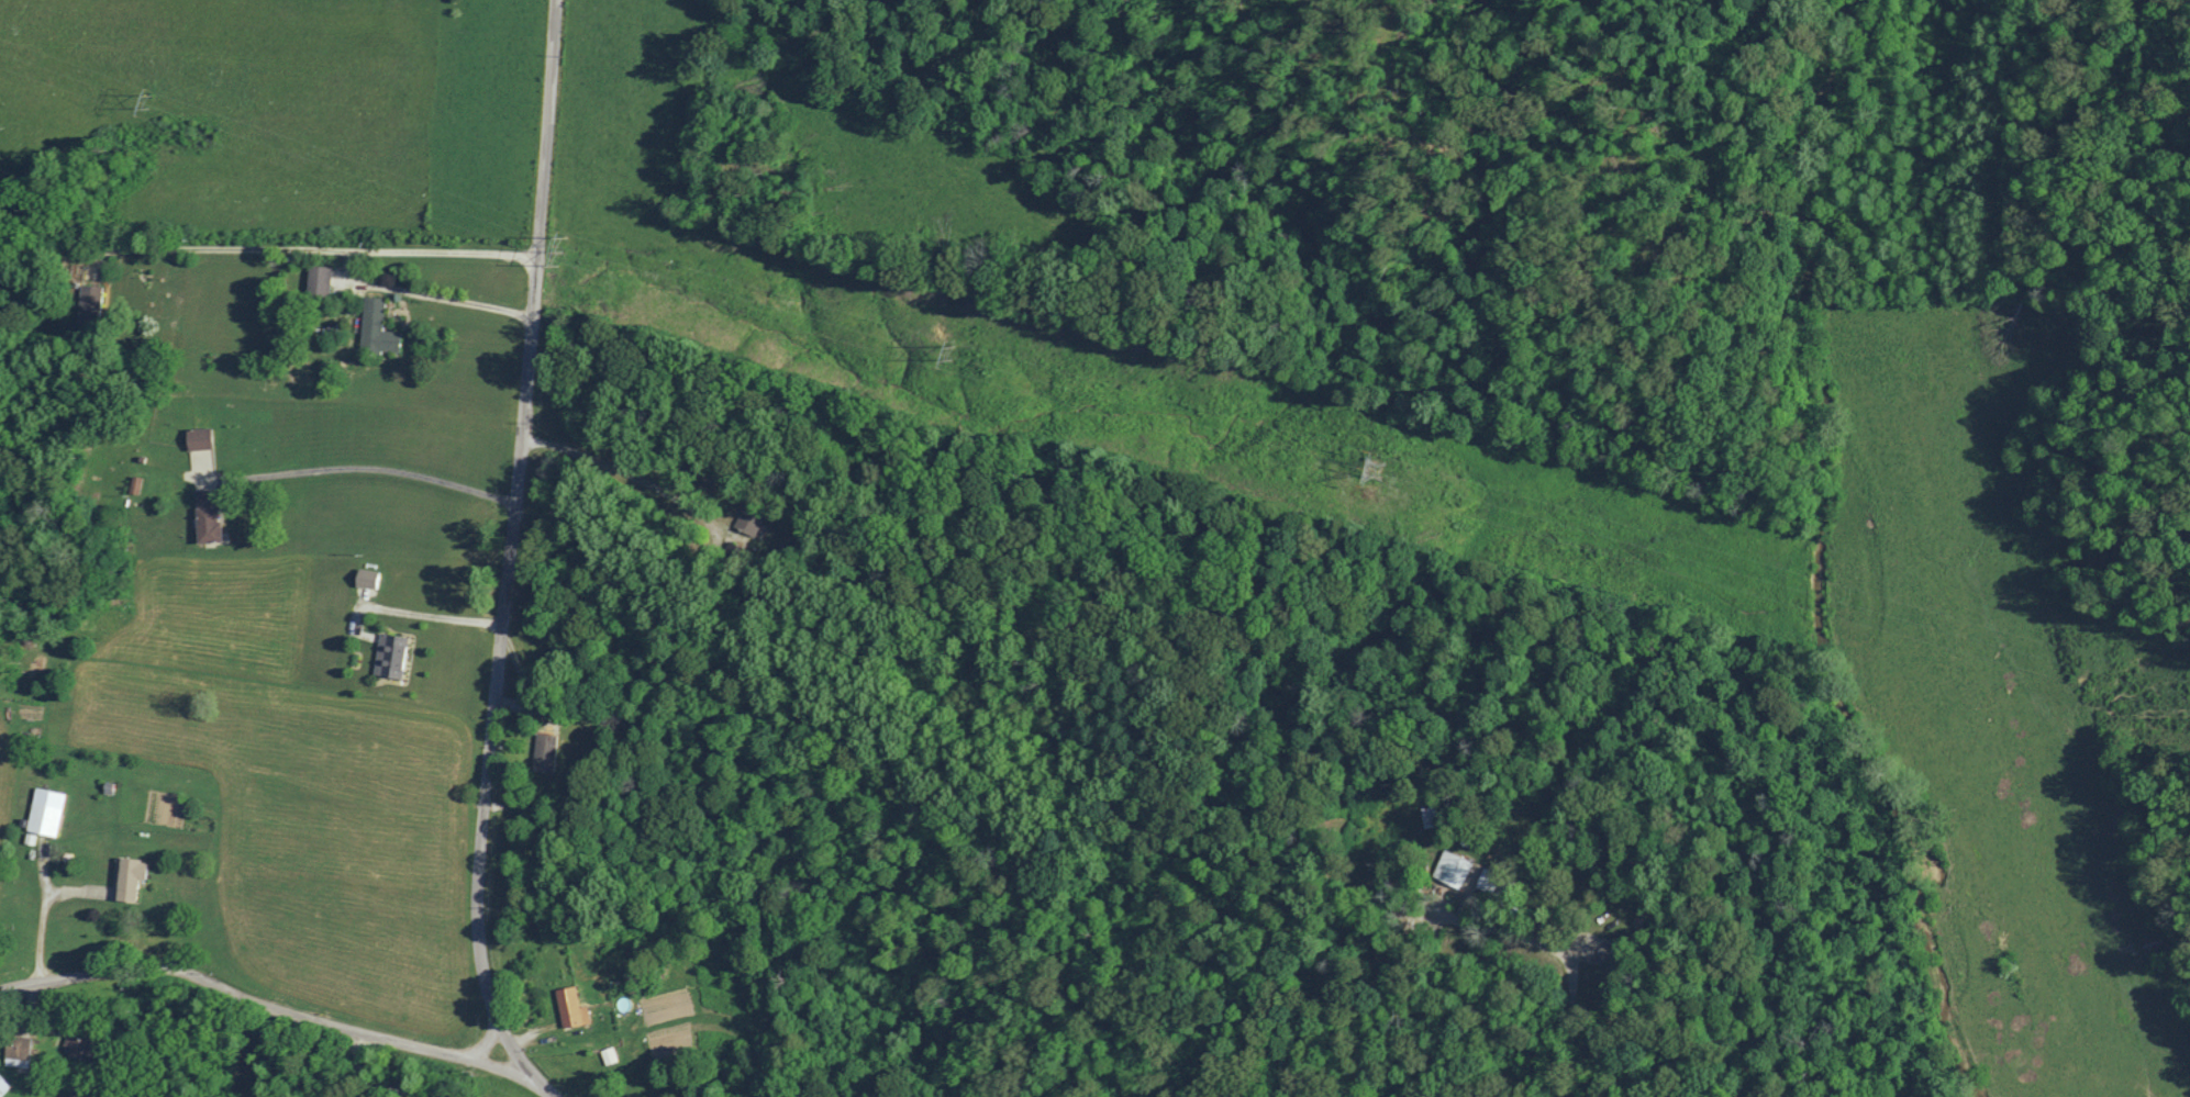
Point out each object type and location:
power tower: (148, 101)
power tower: (560, 246)
road: (268, 250)
building: (319, 280)
road: (425, 293)
building: (91, 299)
building: (377, 327)
power tower: (949, 358)
building: (200, 438)
road: (368, 467)
power tower: (1372, 471)
road: (626, 472)
building: (208, 516)
building: (749, 519)
road: (509, 558)
building: (367, 578)
road: (420, 614)
building: (390, 656)
building: (545, 752)
building: (46, 810)
building: (1453, 869)
building: (129, 877)
road: (41, 914)
road: (1566, 955)
building: (571, 1007)
road: (277, 1009)
road: (487, 1042)
building: (77, 1043)
building: (18, 1051)
building: (609, 1054)
road: (369, 1077)
building: (3, 1085)

